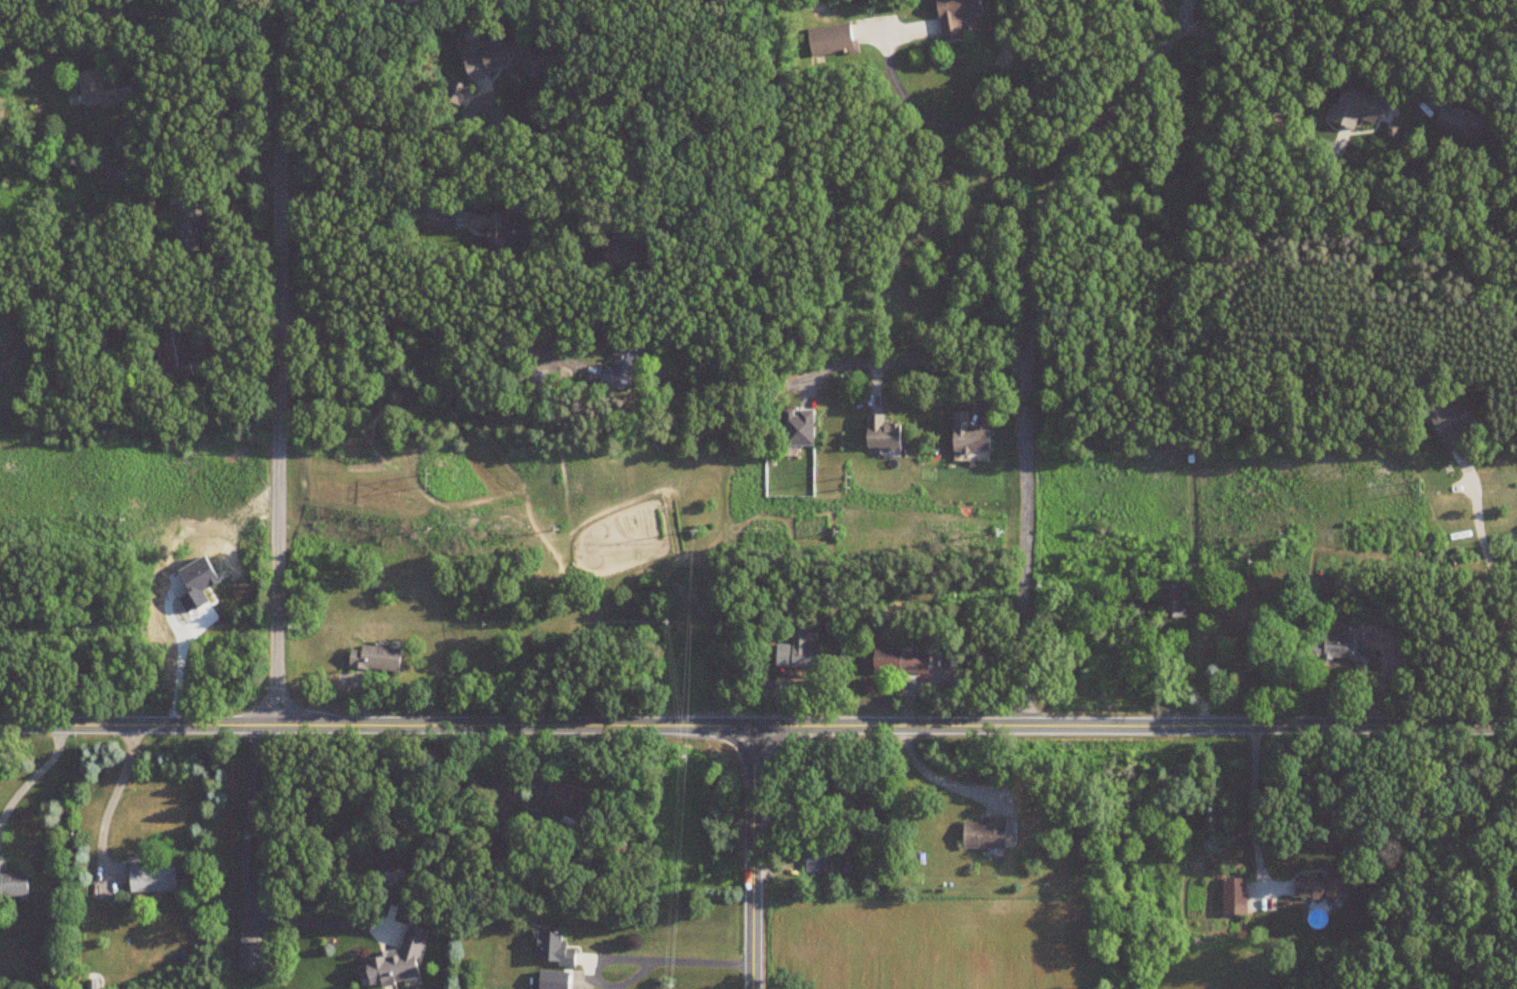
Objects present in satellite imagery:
road: (316, 7)
road: (263, 10)
road: (141, 13)
building: (955, 15)
building: (830, 41)
building: (503, 61)
road: (1241, 70)
building: (93, 91)
road: (202, 106)
building: (1356, 109)
building: (1459, 123)
road: (385, 124)
road: (960, 130)
building: (125, 175)
road: (367, 208)
building: (185, 223)
building: (497, 230)
building: (622, 257)
road: (427, 322)
road: (1025, 340)
building: (173, 346)
road: (934, 364)
building: (619, 368)
road: (279, 373)
building: (1451, 425)
building: (796, 429)
building: (880, 435)
building: (967, 436)
power tower: (418, 468)
power tower: (840, 476)
power tower: (1419, 481)
road: (1499, 599)
building: (1171, 600)
building: (1338, 647)
building: (796, 652)
building: (374, 658)
building: (898, 661)
road: (1133, 726)
road: (375, 727)
road: (34, 776)
road: (935, 776)
building: (847, 779)
road: (1255, 799)
road: (111, 800)
building: (568, 804)
road: (807, 823)
building: (1012, 832)
building: (984, 835)
road: (750, 858)
building: (814, 860)
road: (244, 868)
building: (150, 878)
building: (12, 884)
building: (1317, 888)
building: (1232, 896)
building: (552, 950)
building: (249, 956)
road: (667, 958)
building: (392, 963)
building: (91, 984)

